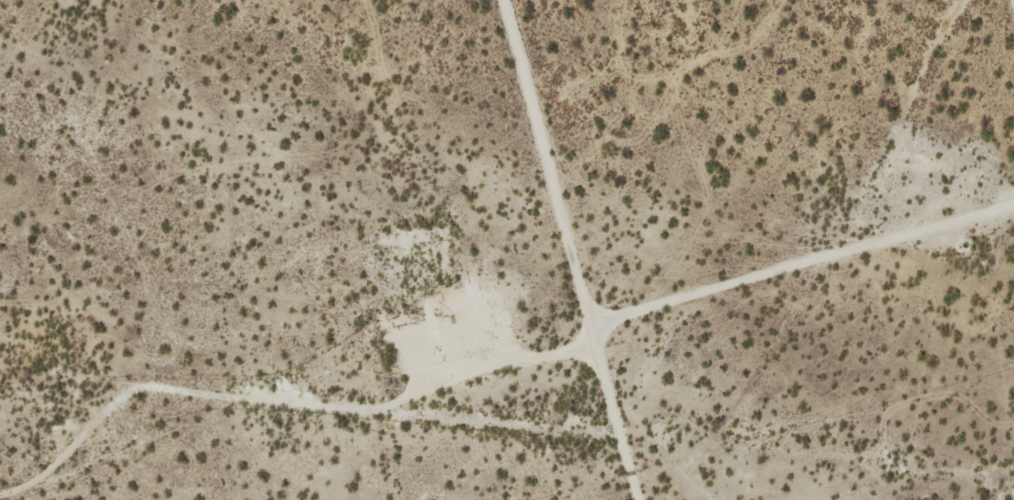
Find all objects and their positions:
road: (575, 250)
road: (805, 267)
road: (61, 478)

